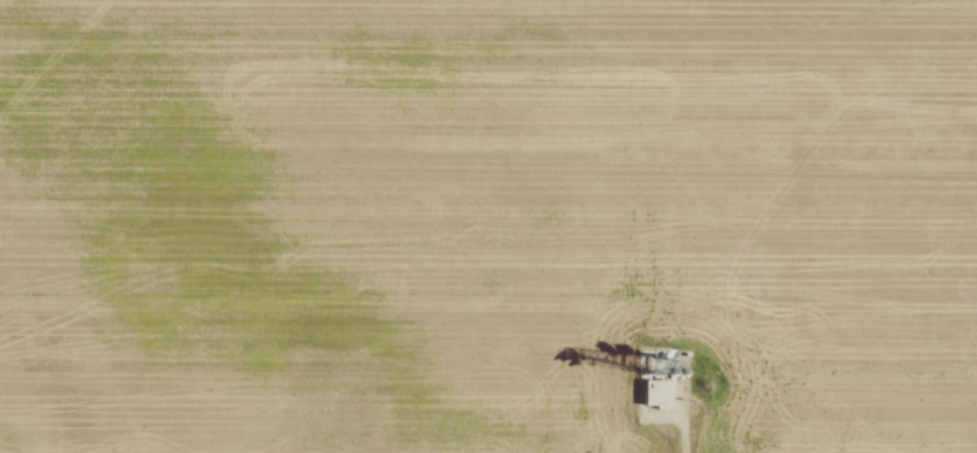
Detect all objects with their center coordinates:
crop: (485, 223)
building: (651, 392)
road: (680, 407)

